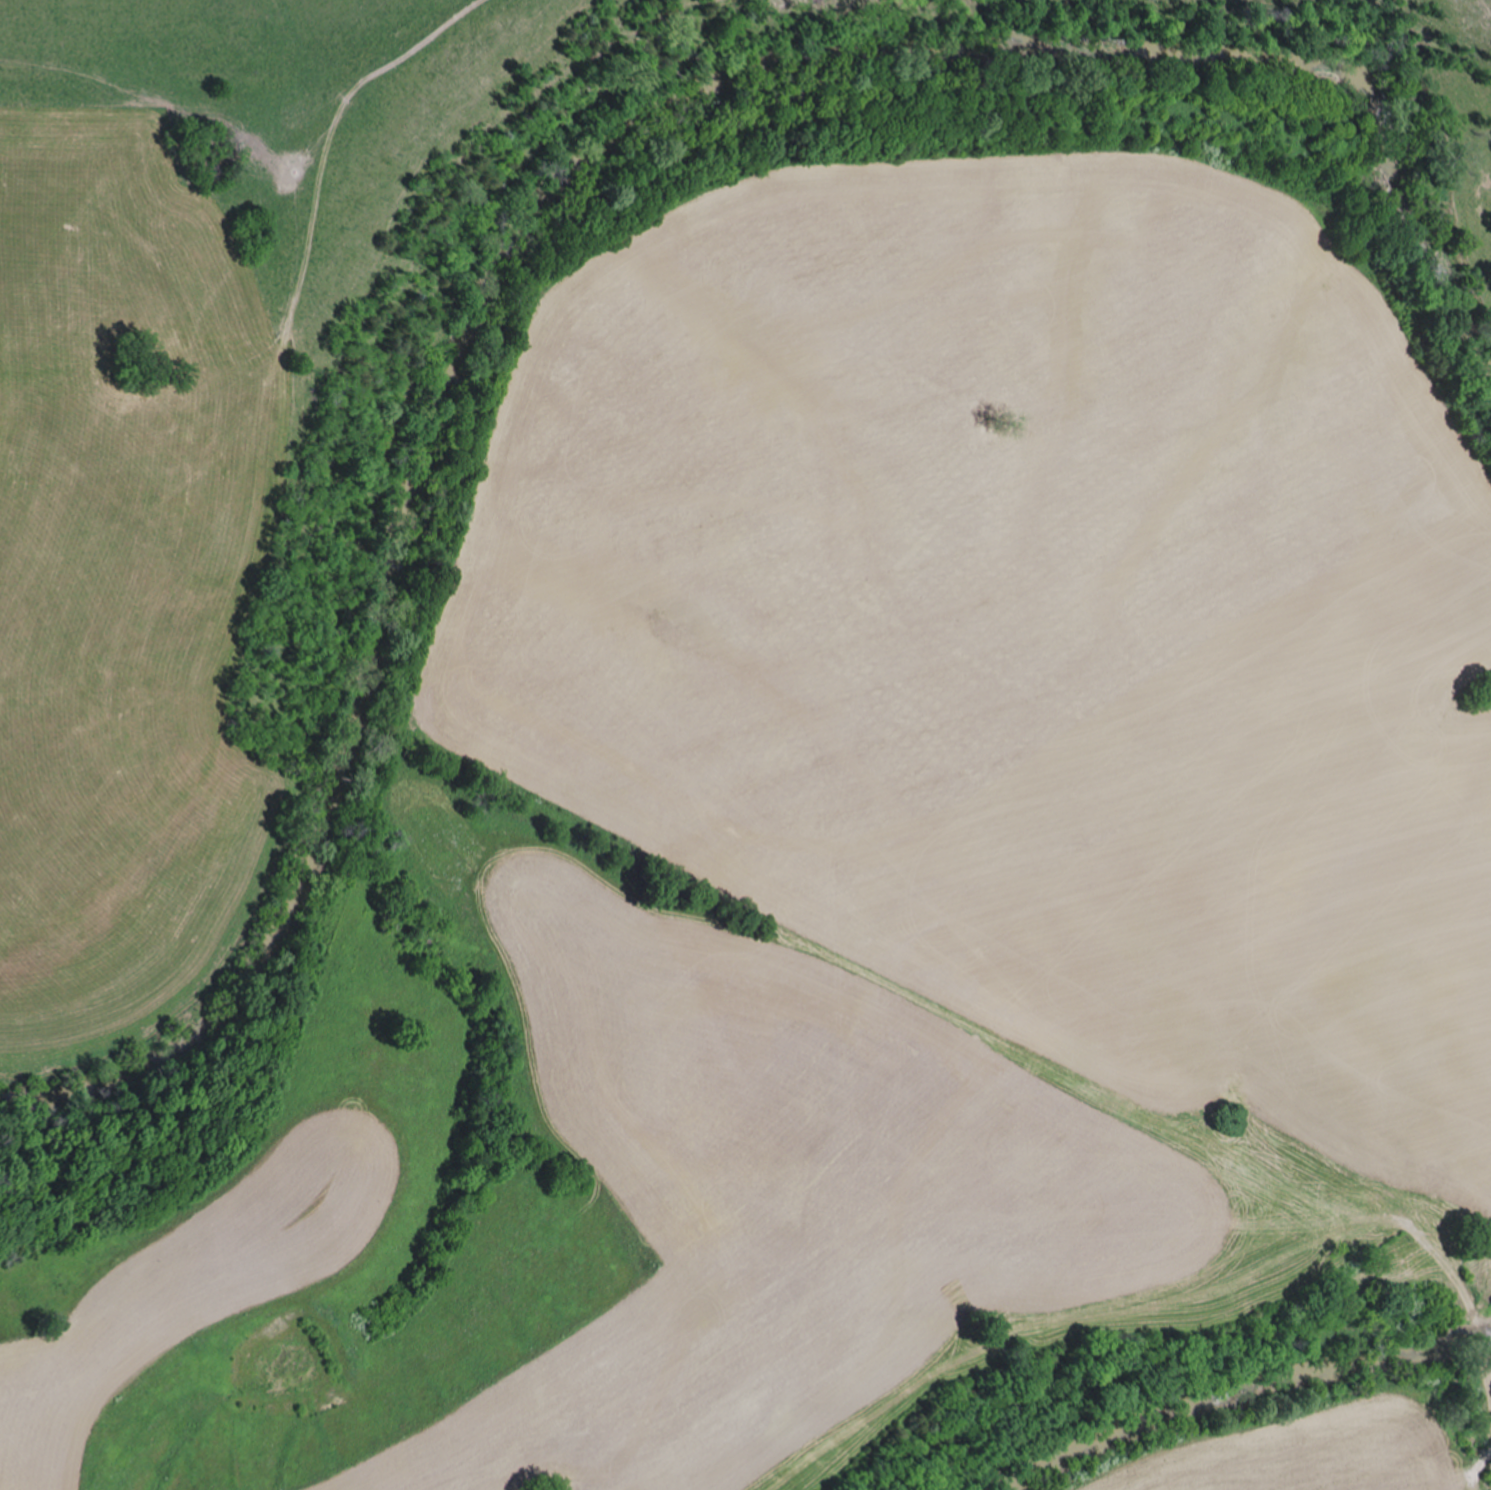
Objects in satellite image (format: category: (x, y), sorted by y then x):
road: (383, 45)
building: (15, 119)
river: (562, 156)
river: (1222, 1382)

